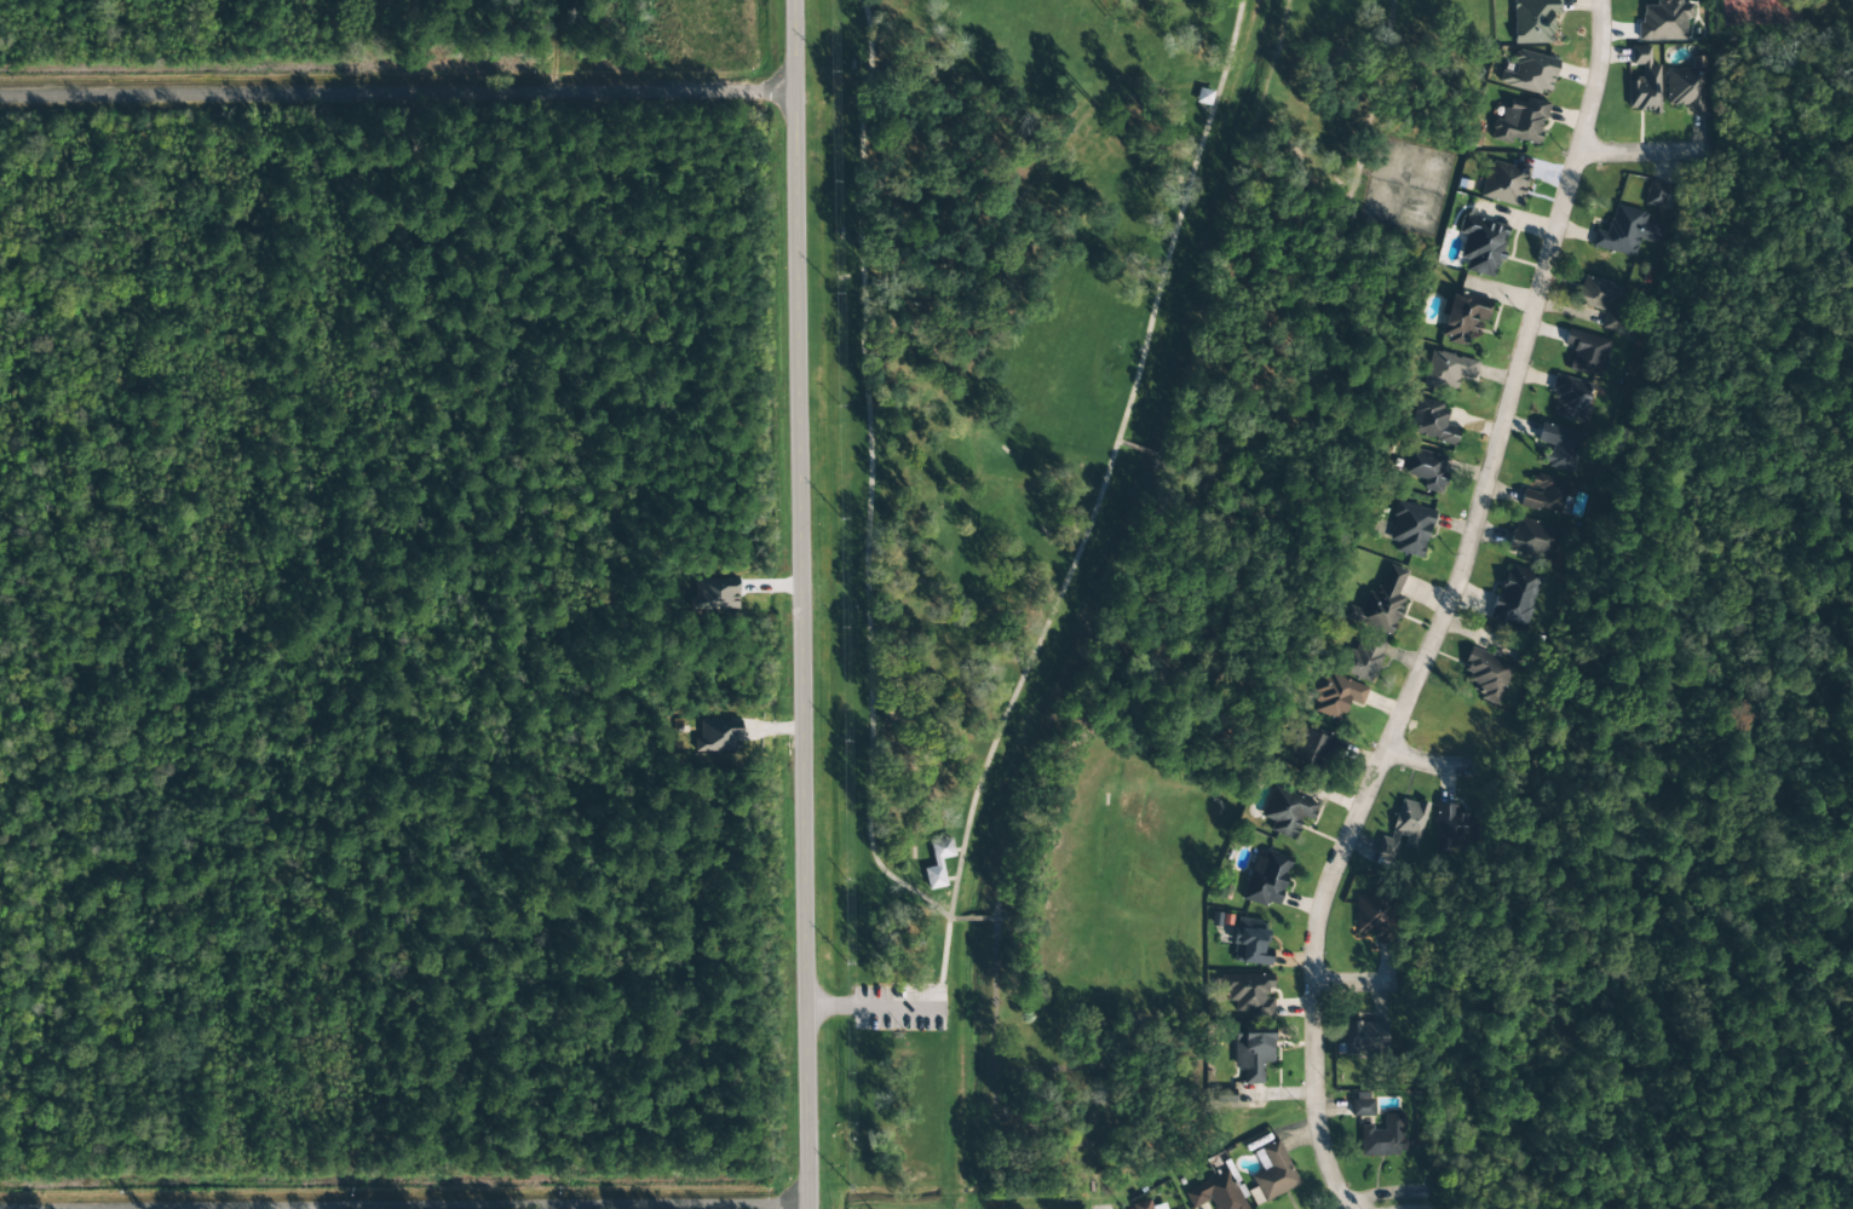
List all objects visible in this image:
building: (1530, 19)
building: (1664, 19)
building: (1530, 73)
building: (1644, 82)
building: (1685, 87)
road: (398, 94)
building: (1201, 96)
building: (1519, 120)
road: (1644, 152)
building: (1503, 183)
building: (1655, 195)
building: (1623, 231)
building: (1479, 244)
building: (1595, 293)
building: (1461, 316)
building: (1611, 322)
building: (1584, 352)
building: (1445, 370)
building: (1570, 398)
building: (1429, 422)
building: (1556, 445)
building: (1425, 467)
building: (1542, 494)
park: (1099, 525)
building: (1406, 528)
building: (1533, 539)
building: (714, 595)
building: (1513, 597)
building: (1382, 603)
road: (801, 604)
road: (1445, 608)
building: (1362, 656)
road: (598, 664)
building: (1485, 674)
building: (1335, 696)
building: (719, 736)
building: (1314, 748)
road: (1434, 764)
building: (1285, 811)
building: (1409, 822)
building: (1454, 829)
building: (1386, 848)
building: (936, 862)
building: (1265, 877)
road: (973, 910)
building: (1370, 917)
building: (1249, 943)
road: (1357, 981)
building: (1247, 992)
building: (1363, 1038)
building: (1250, 1050)
building: (1360, 1104)
building: (1383, 1136)
building: (1272, 1171)
building: (1214, 1193)
building: (1145, 1204)
road: (604, 1207)
road: (1374, 1207)
road: (570, 1208)
road: (1104, 1208)

